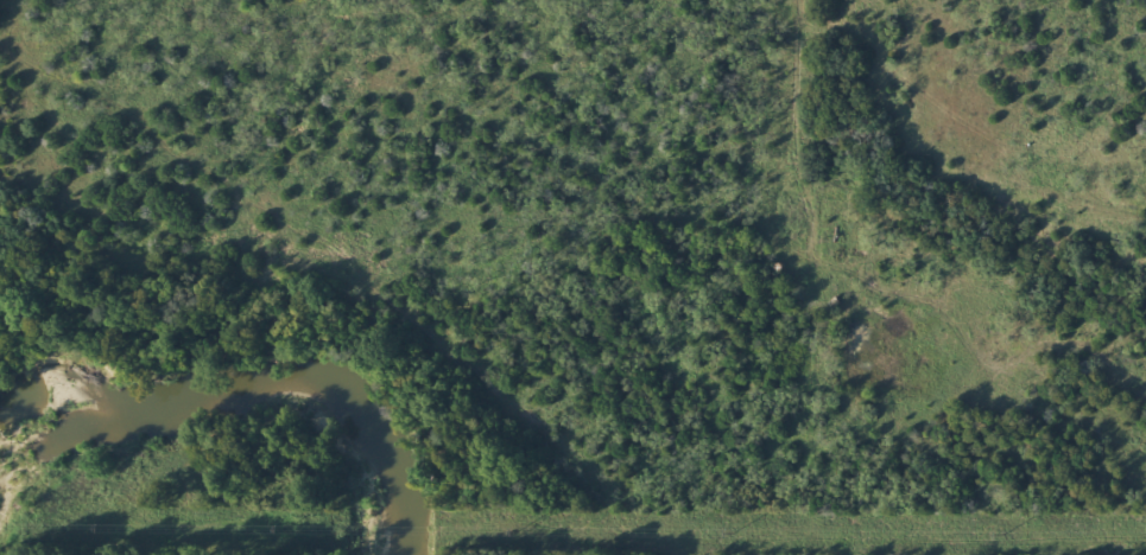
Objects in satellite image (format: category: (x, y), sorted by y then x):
road: (796, 94)

